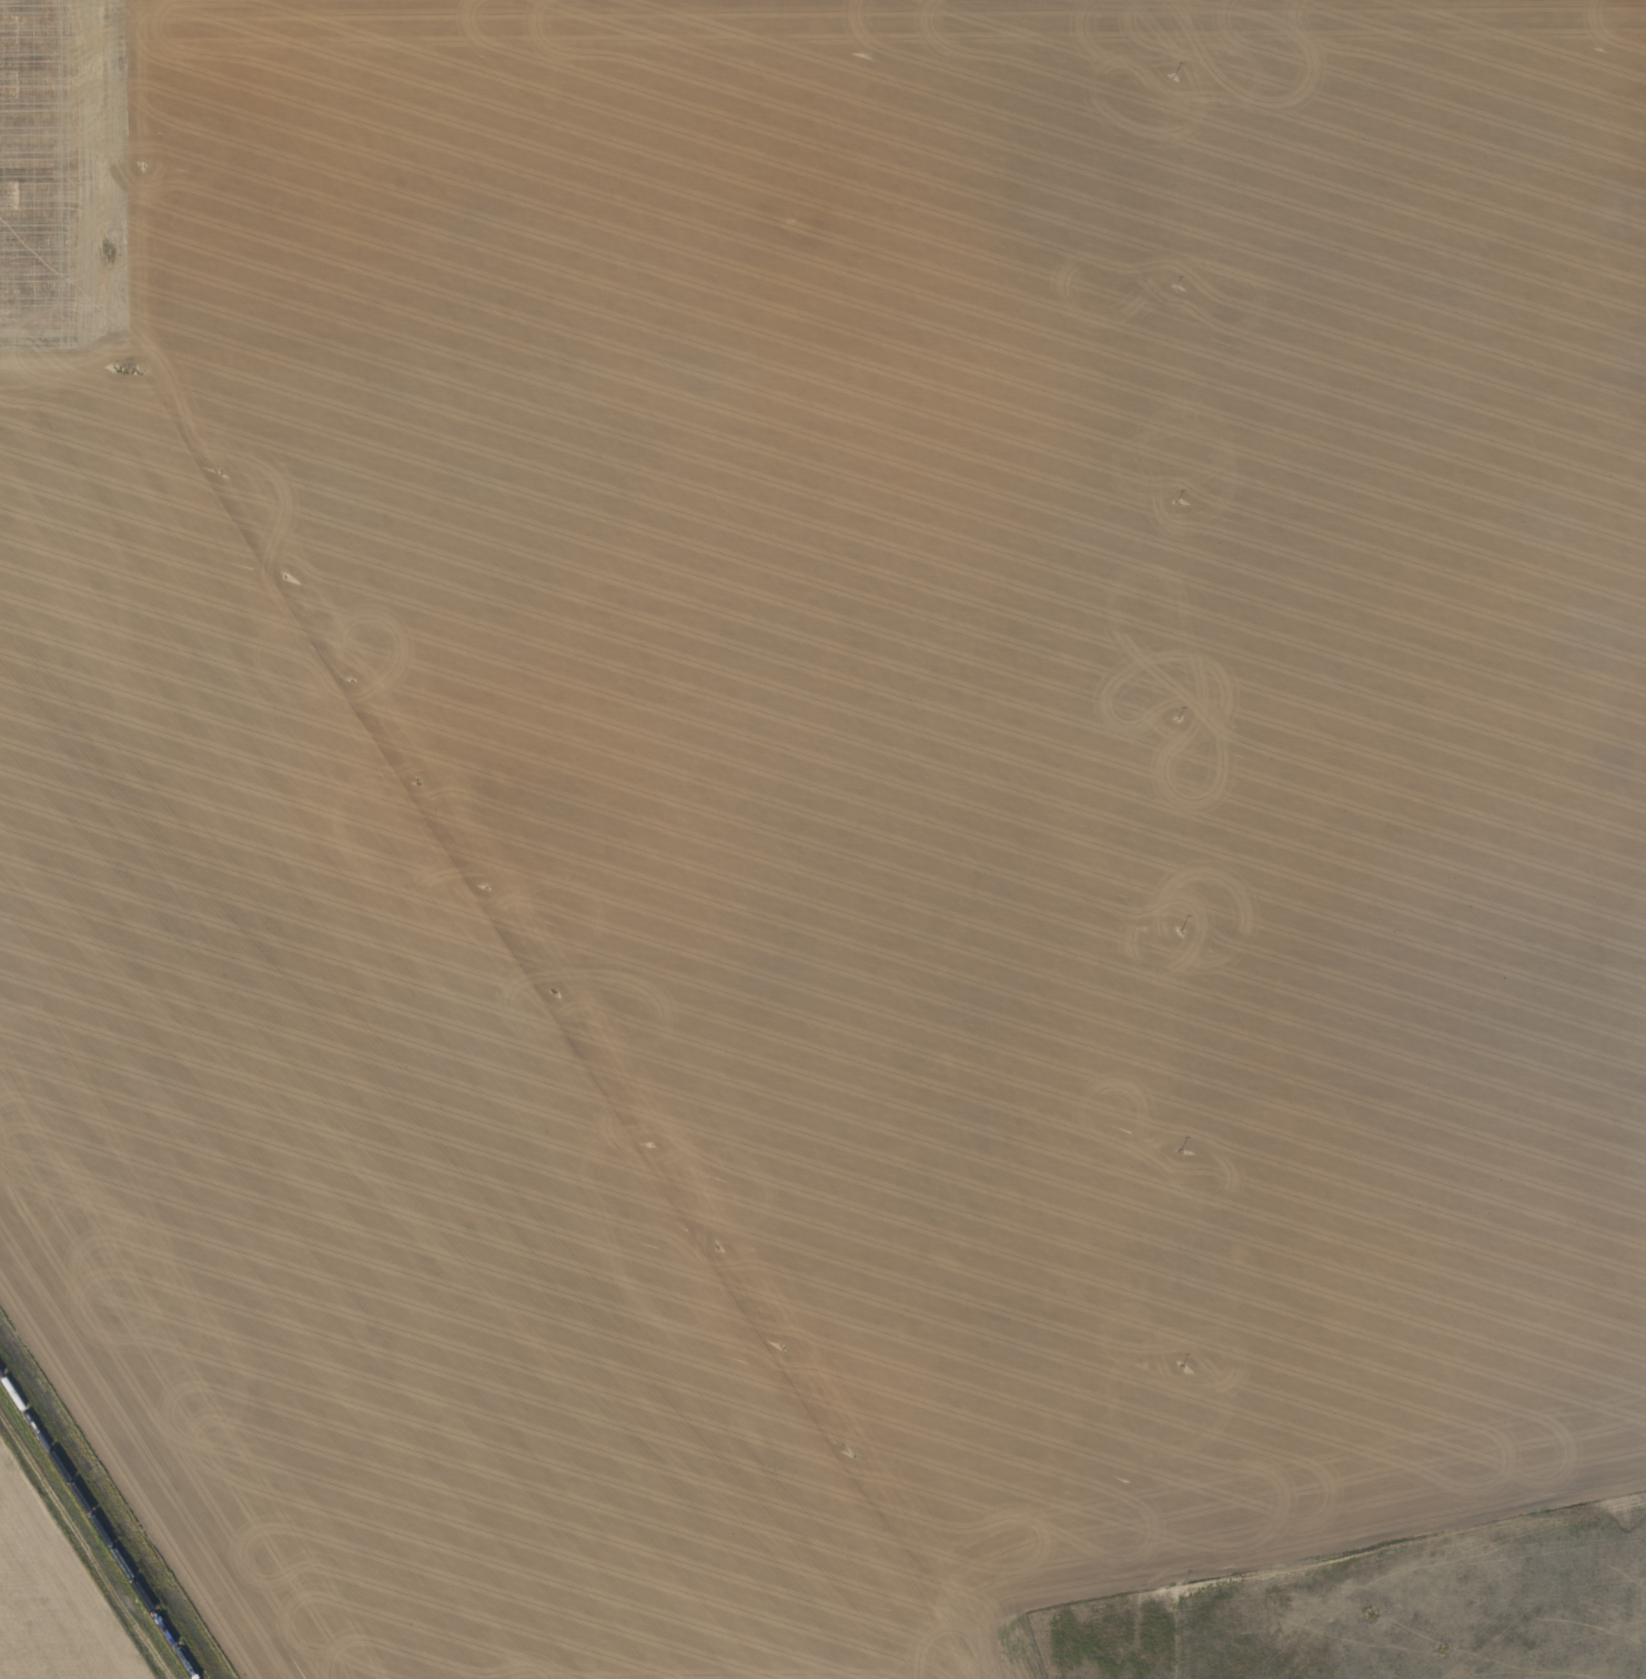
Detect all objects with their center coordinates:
railway: (98, 1525)

